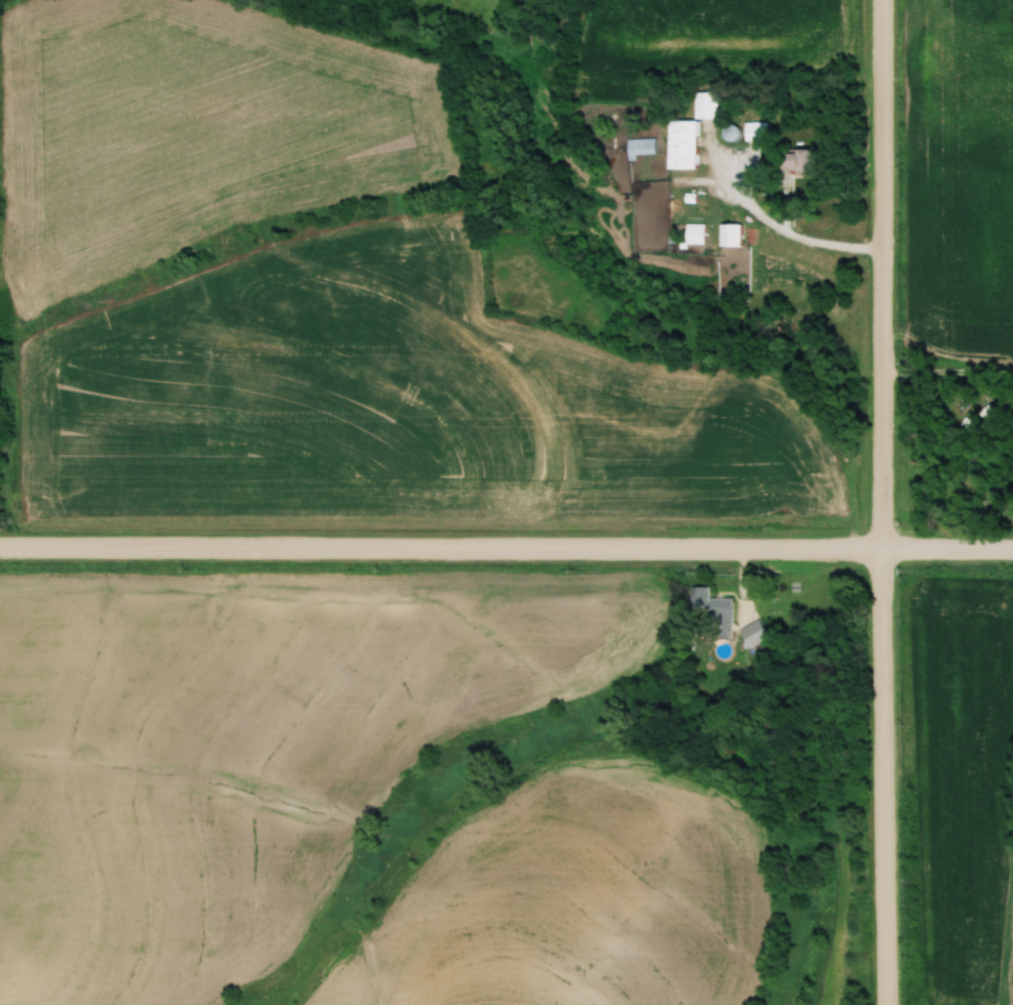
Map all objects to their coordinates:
building: (703, 105)
building: (752, 131)
building: (680, 144)
building: (637, 148)
building: (791, 160)
road: (781, 231)
building: (693, 233)
building: (728, 235)
road: (947, 373)
road: (881, 502)
road: (506, 549)
building: (713, 610)

